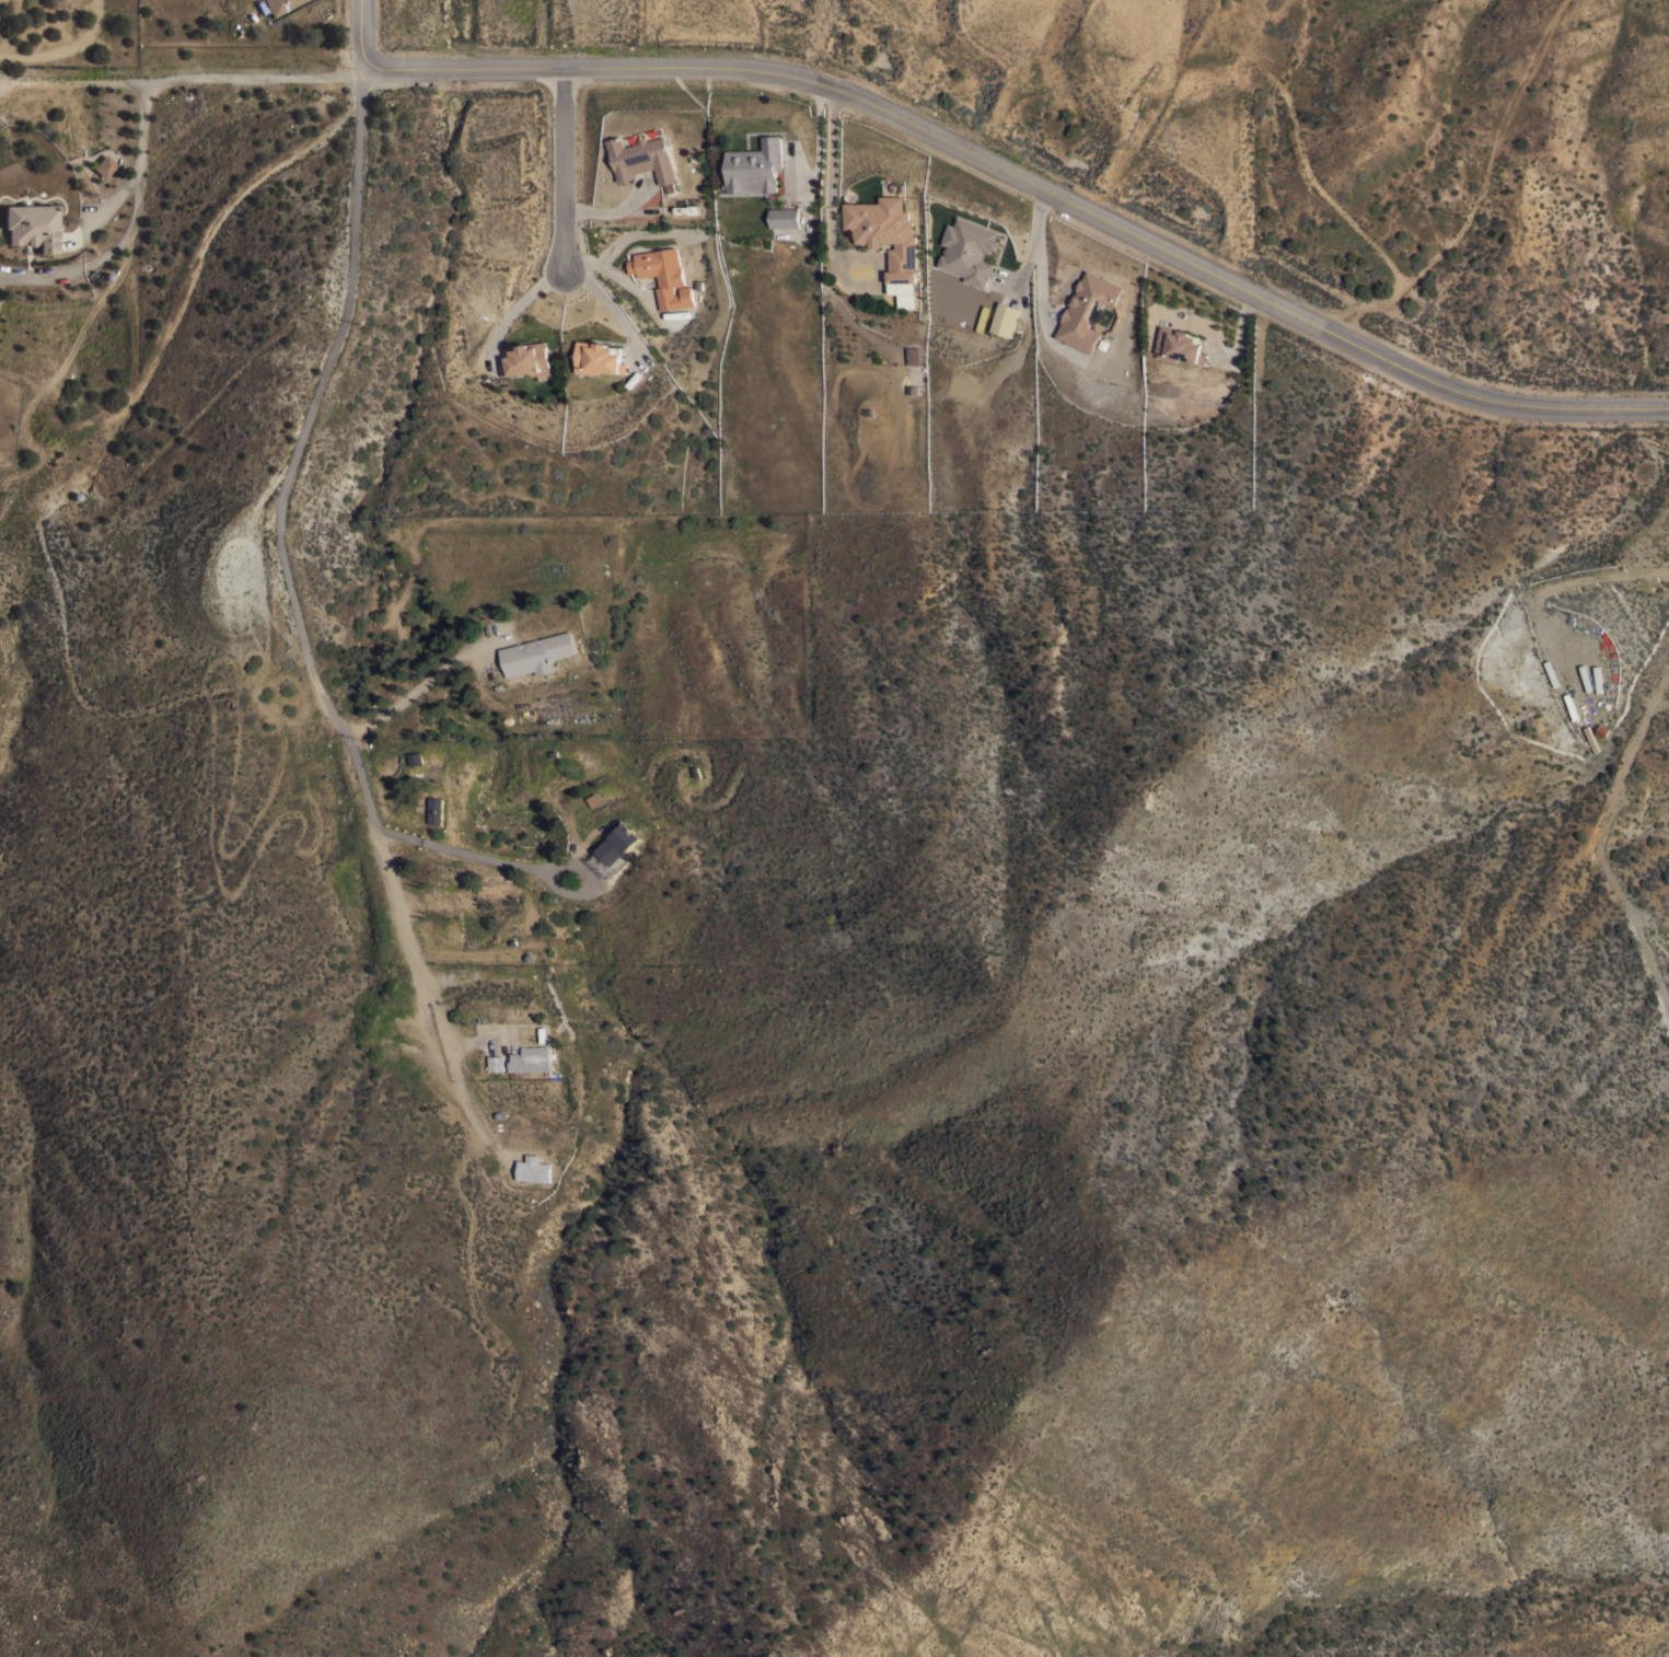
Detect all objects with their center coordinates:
building: (279, 5)
road: (181, 79)
road: (818, 140)
building: (641, 158)
building: (102, 166)
building: (755, 166)
road: (561, 171)
road: (1030, 185)
building: (784, 217)
building: (32, 225)
road: (130, 228)
building: (886, 235)
road: (831, 240)
building: (970, 250)
building: (662, 275)
road: (1039, 277)
road: (607, 299)
building: (1086, 310)
building: (1180, 345)
building: (599, 357)
building: (529, 360)
road: (135, 398)
road: (289, 589)
building: (537, 653)
building: (436, 809)
road: (462, 849)
building: (615, 849)
building: (530, 1058)
building: (495, 1063)
building: (533, 1168)

